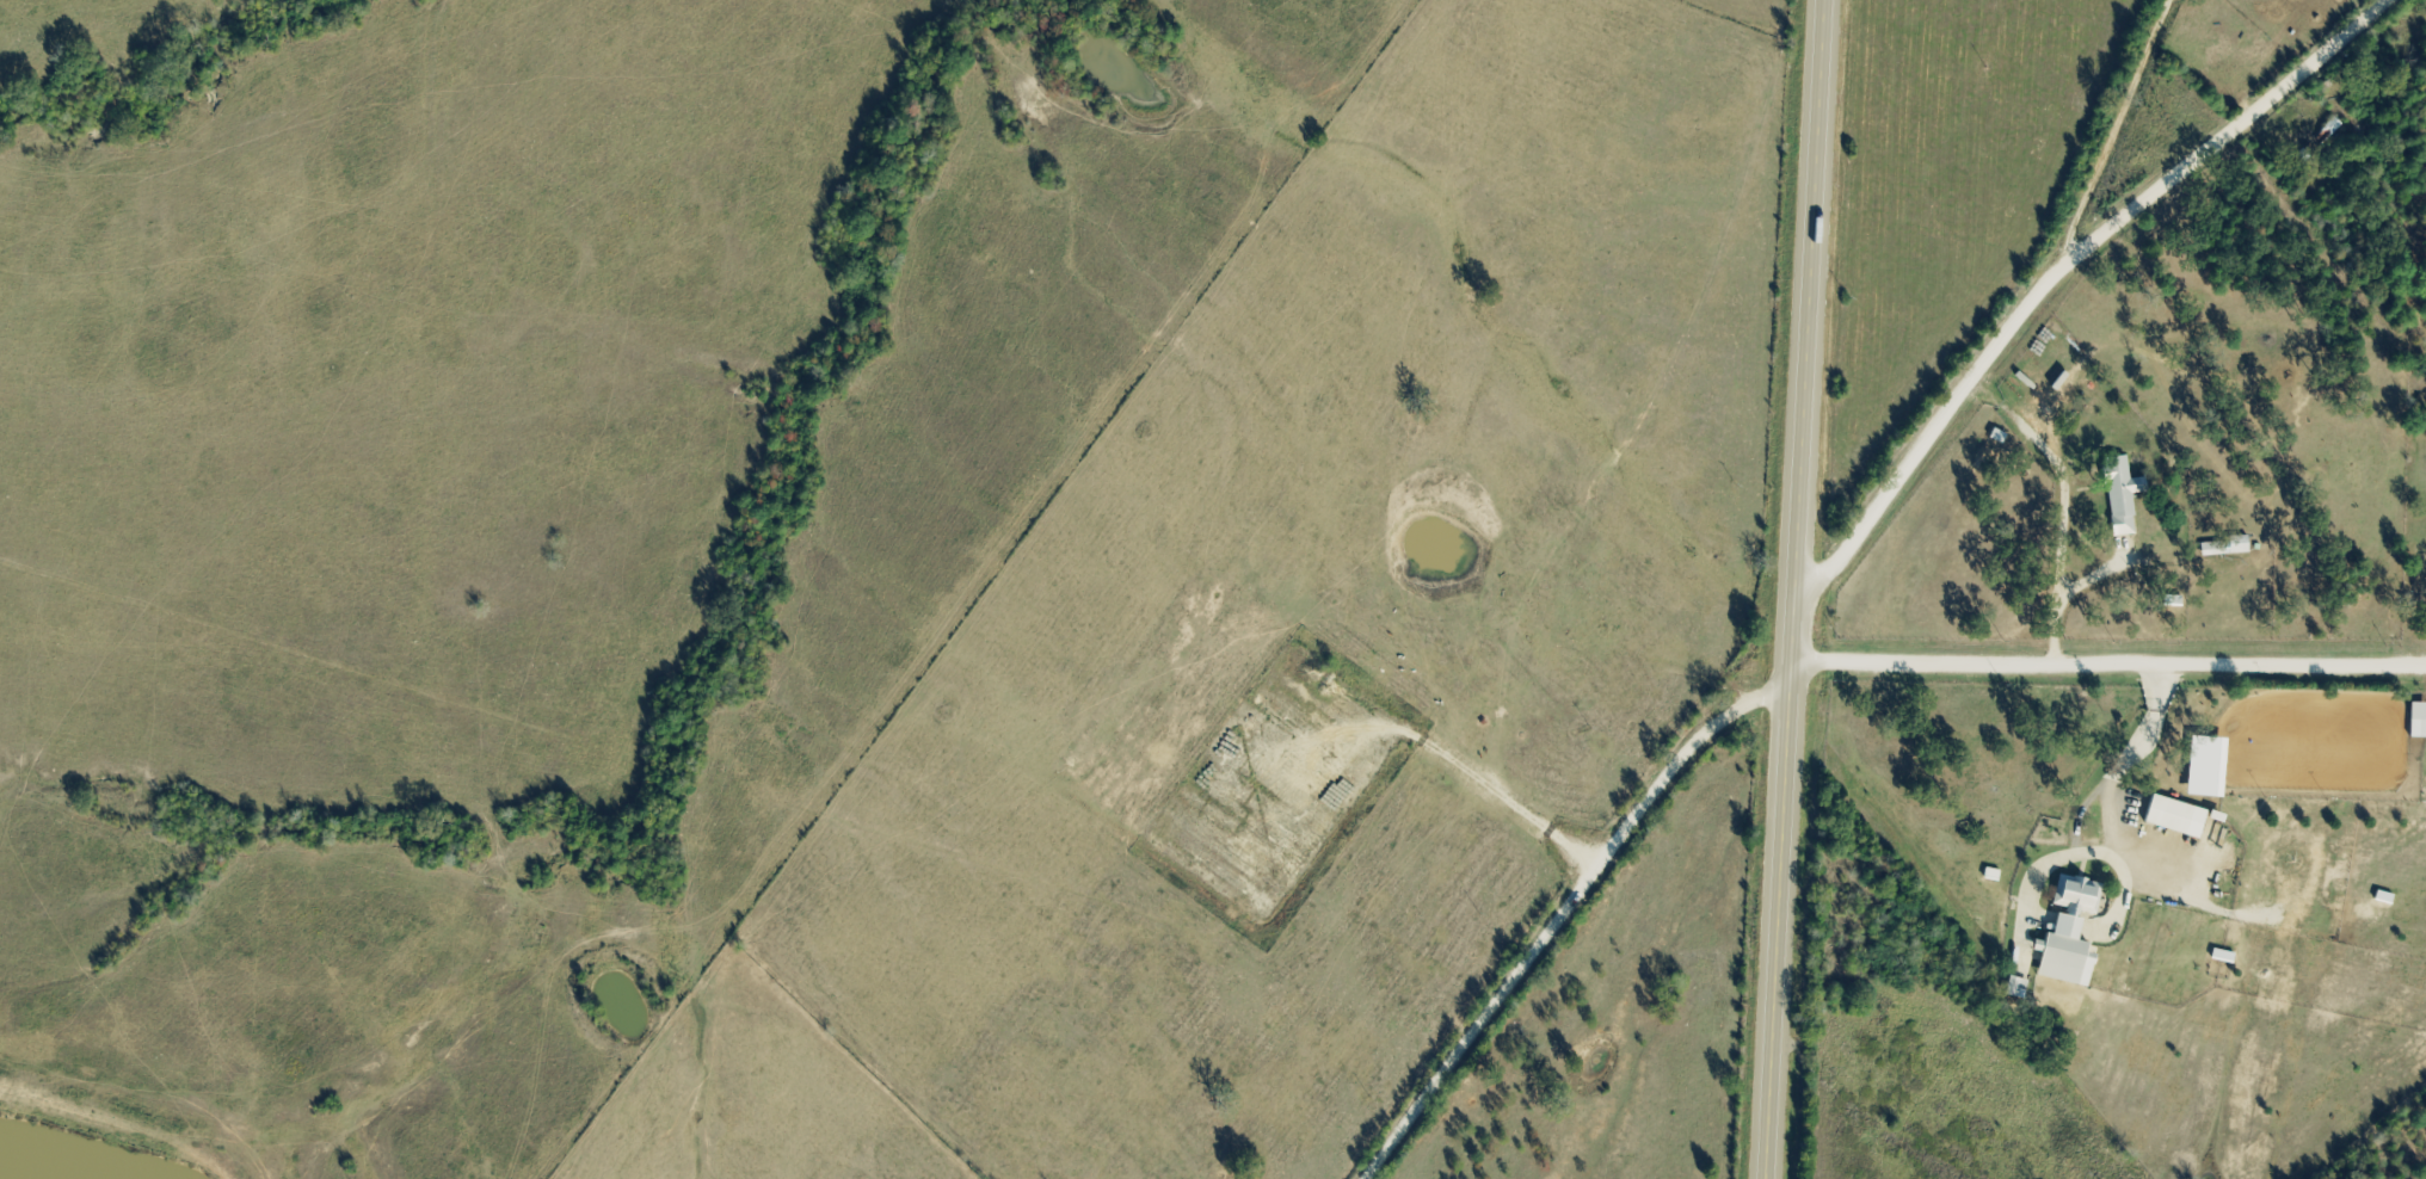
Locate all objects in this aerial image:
road: (2112, 135)
road: (2061, 266)
building: (2125, 493)
building: (2229, 549)
road: (1799, 589)
road: (2108, 665)
building: (2420, 722)
railway: (2334, 745)
building: (2181, 819)
road: (1558, 911)
building: (2075, 936)

